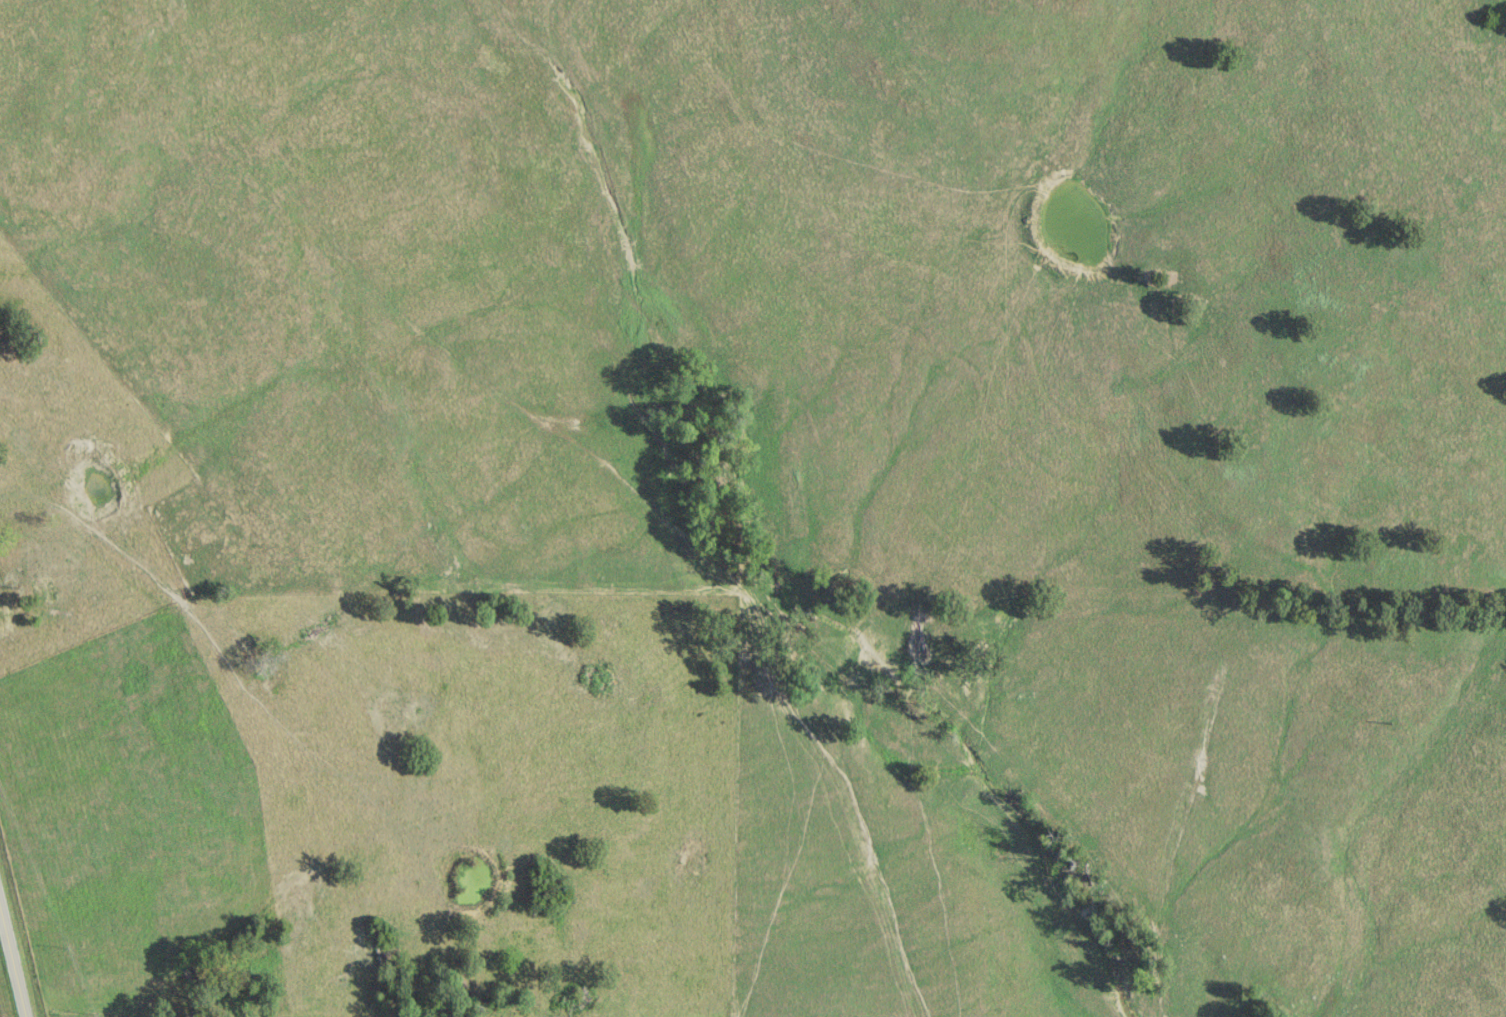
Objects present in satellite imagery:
road: (14, 964)

